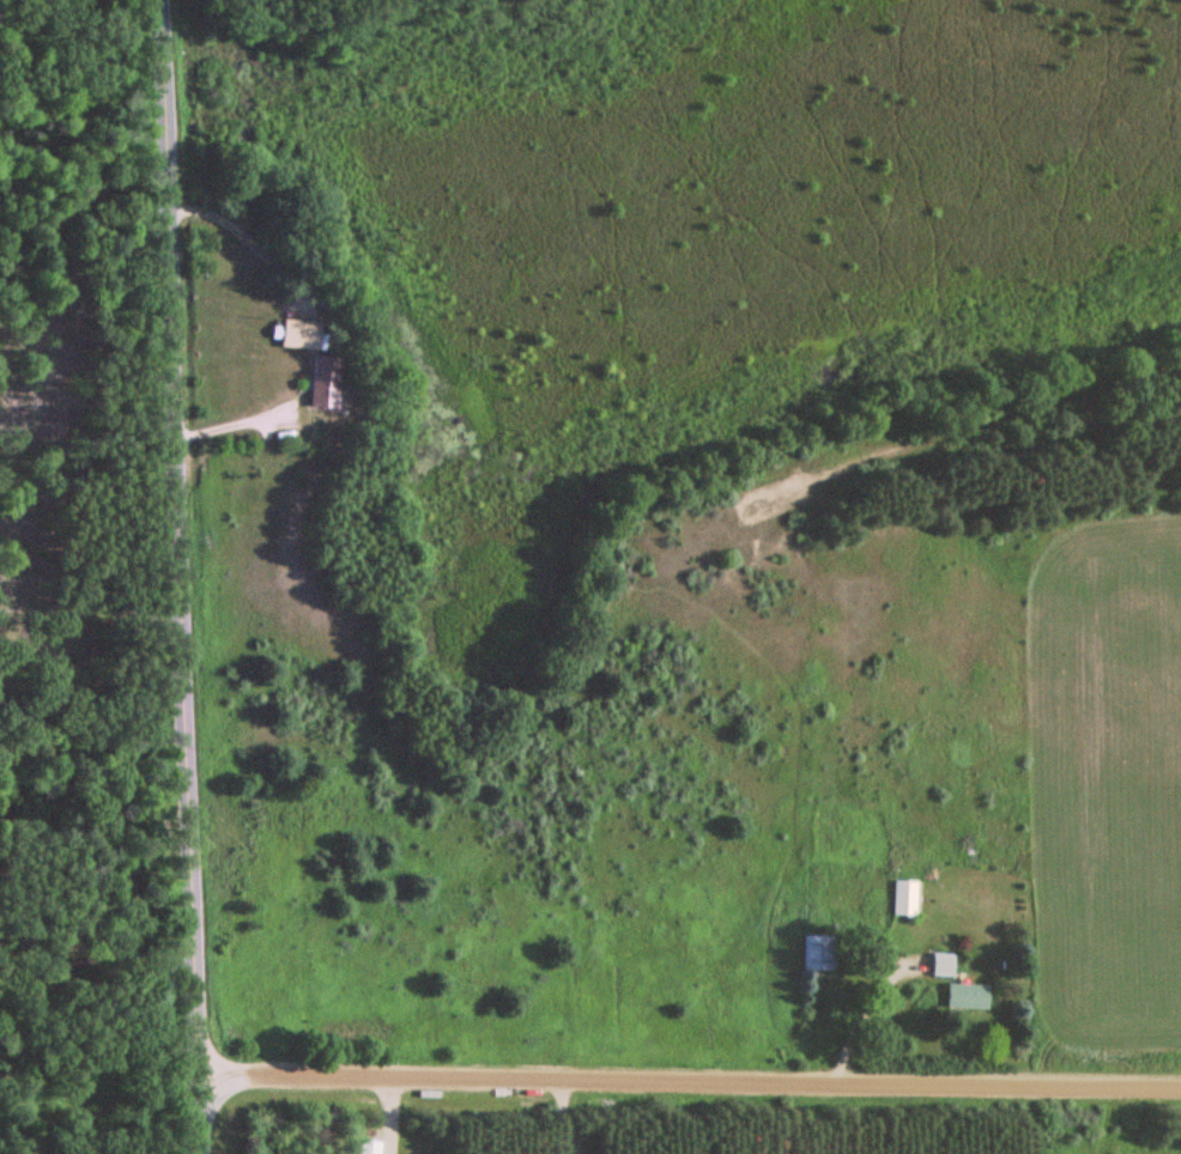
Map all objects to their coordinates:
building: (295, 336)
building: (320, 384)
road: (182, 576)
building: (906, 899)
building: (819, 953)
building: (943, 966)
building: (967, 998)
road: (691, 1080)
building: (367, 1147)

